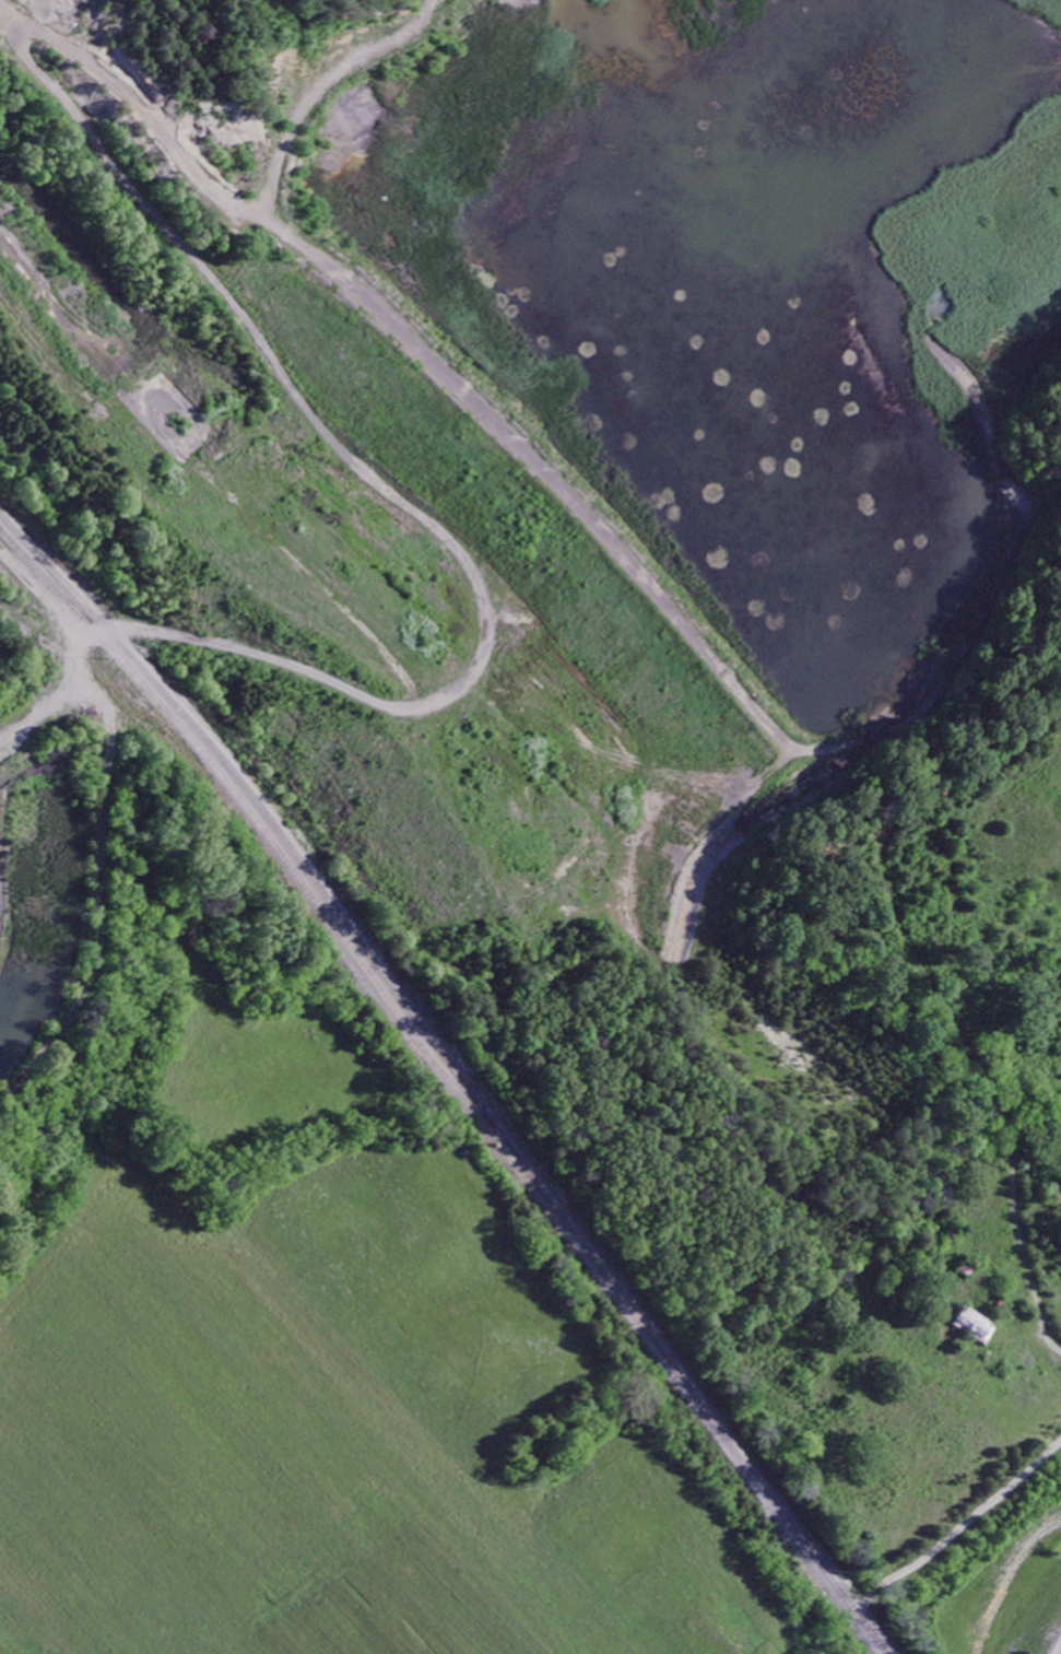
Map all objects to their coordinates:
road: (356, 473)
railway: (448, 1080)

